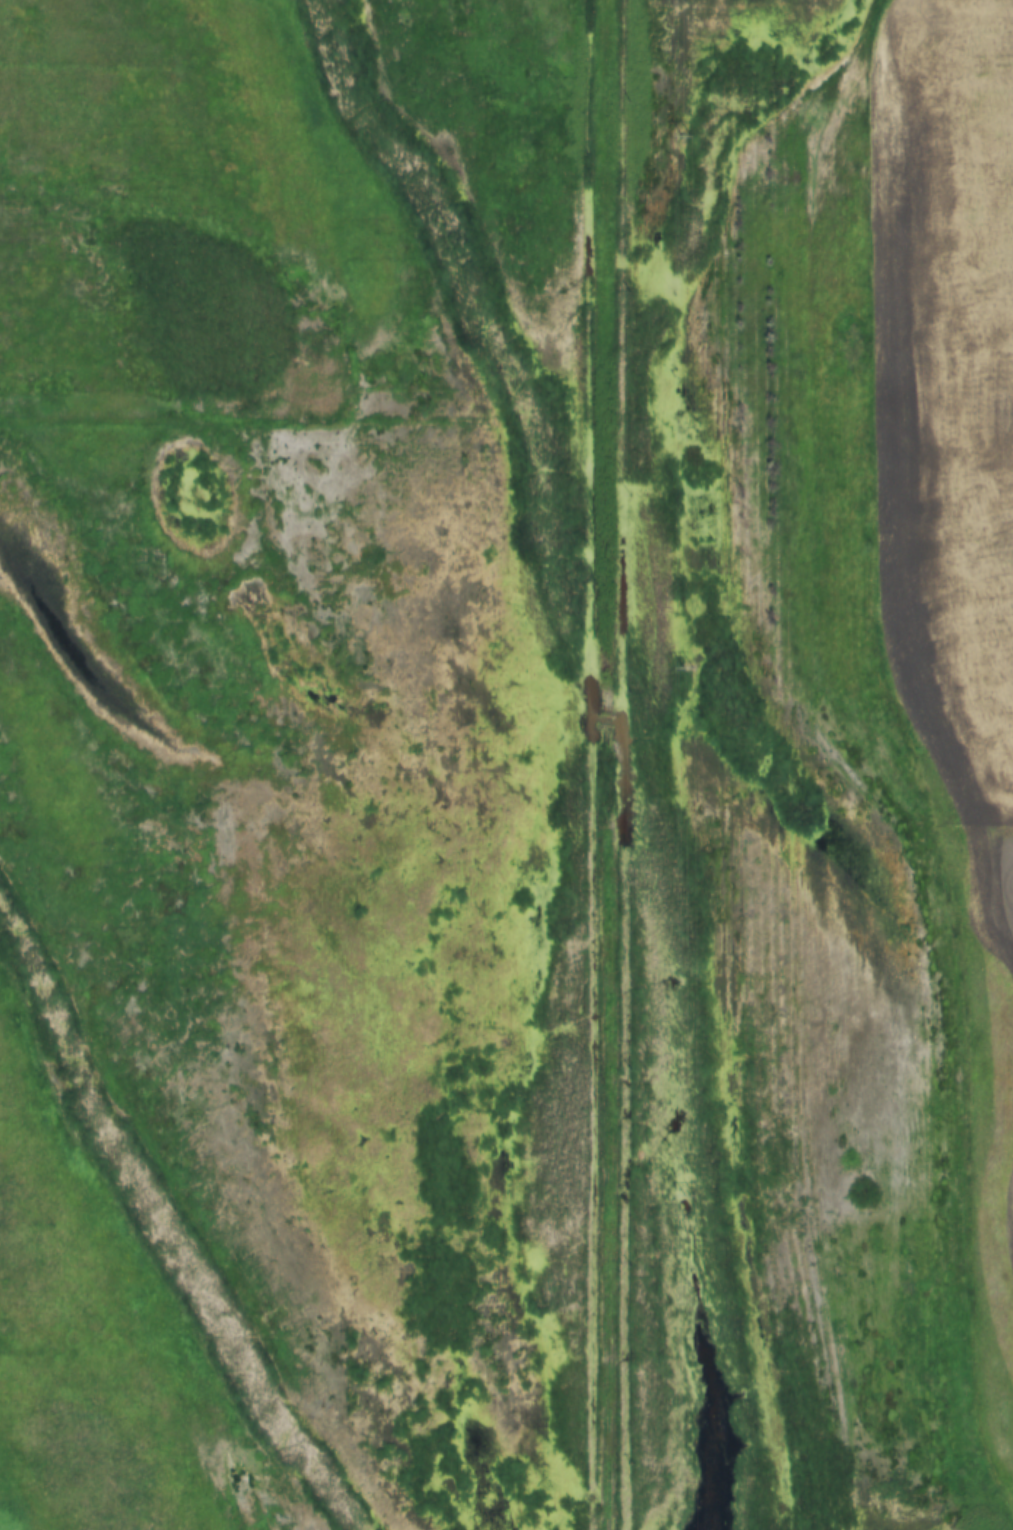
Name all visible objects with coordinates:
power tower: (682, 133)
power tower: (683, 668)
road: (615, 765)
power tower: (688, 1193)

